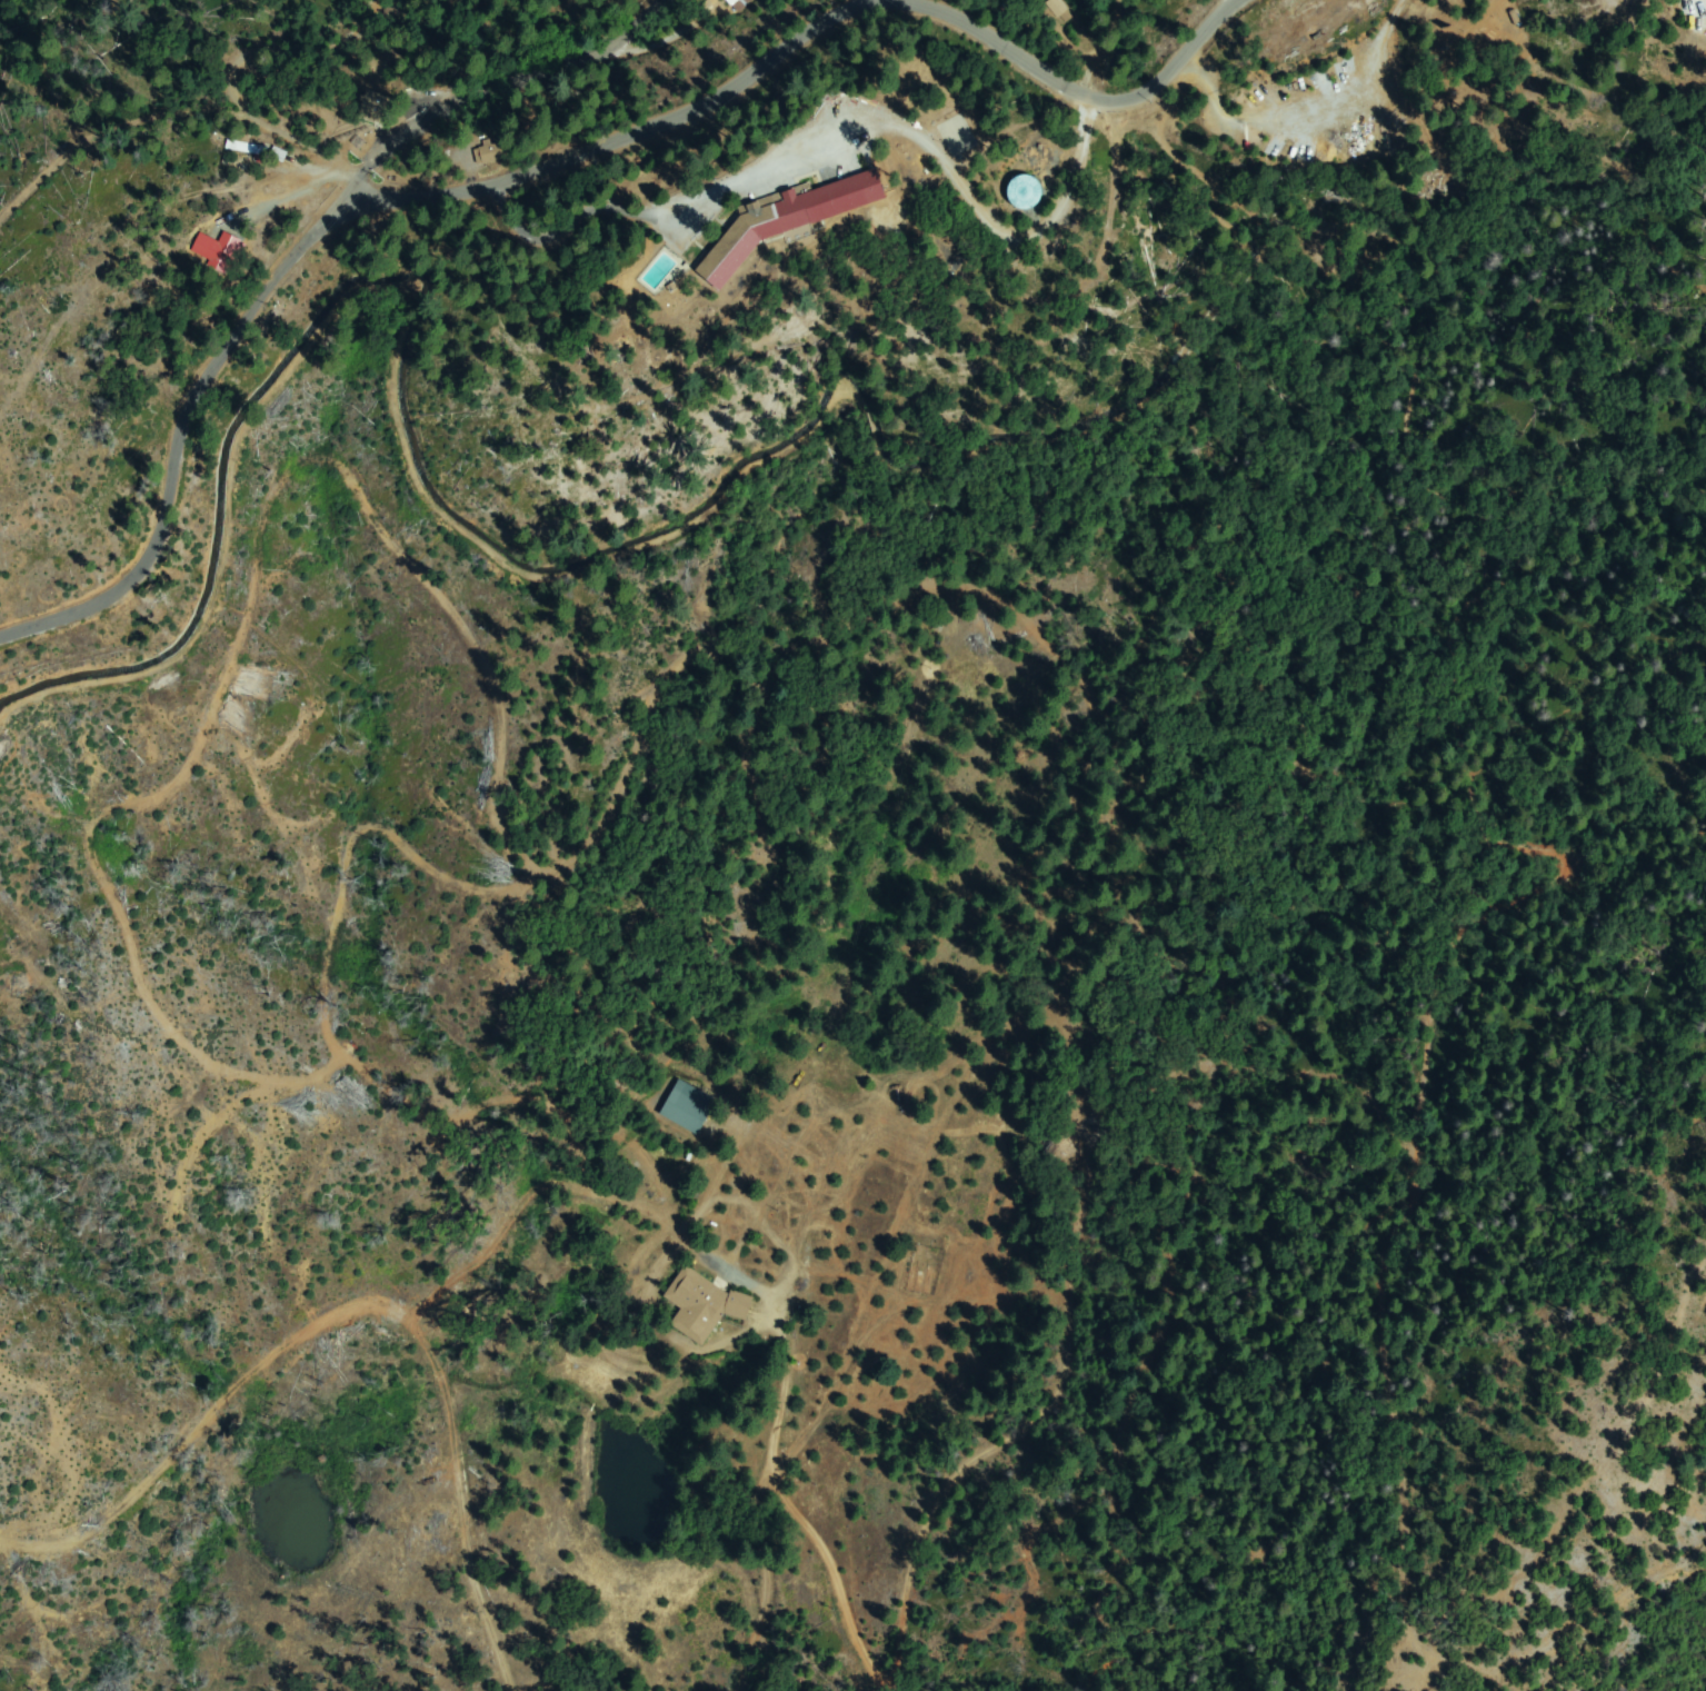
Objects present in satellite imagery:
building: (728, 1)
building: (736, 2)
building: (1056, 8)
road: (486, 78)
road: (1077, 93)
building: (375, 106)
building: (395, 121)
road: (598, 130)
building: (248, 146)
building: (490, 152)
storage tank: (1038, 159)
road: (317, 179)
building: (1031, 191)
storage tank: (1024, 193)
building: (785, 220)
road: (137, 247)
building: (219, 251)
road: (157, 406)
building: (688, 1108)
road: (932, 1173)
building: (701, 1306)
road: (800, 1518)

